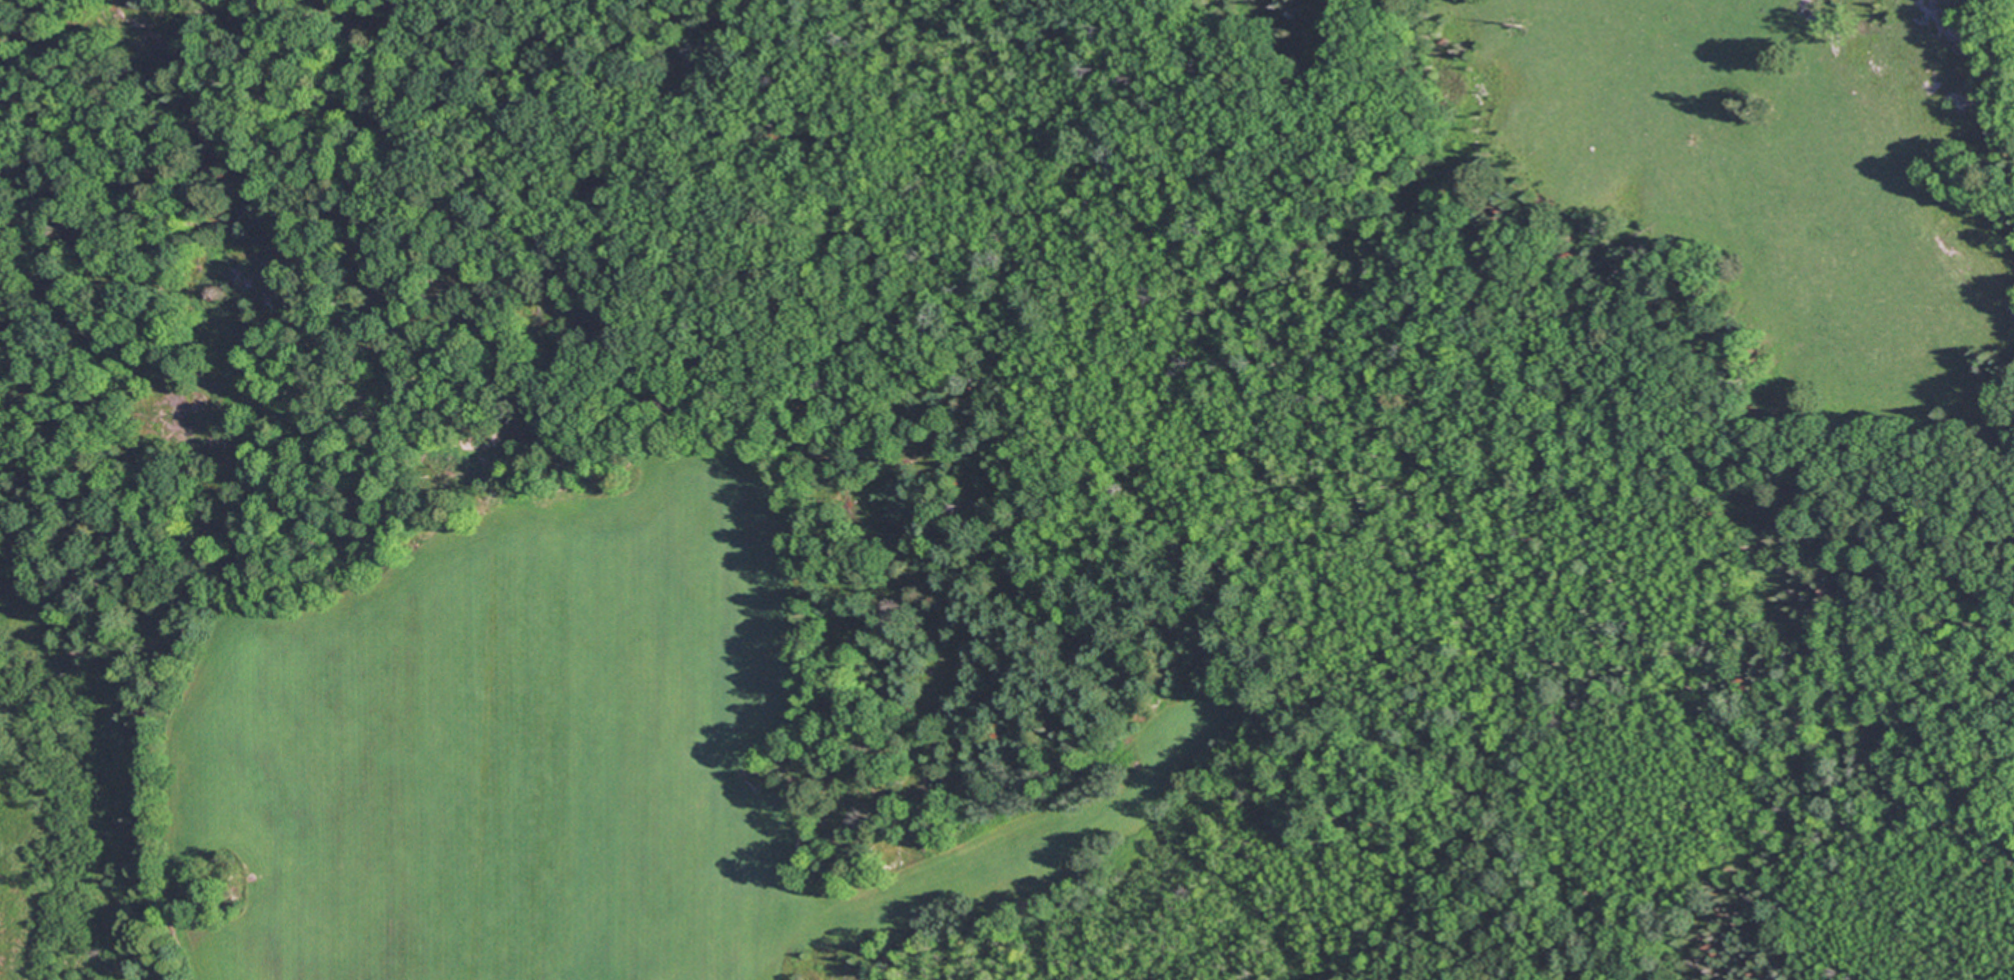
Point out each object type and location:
building: (130, 958)

